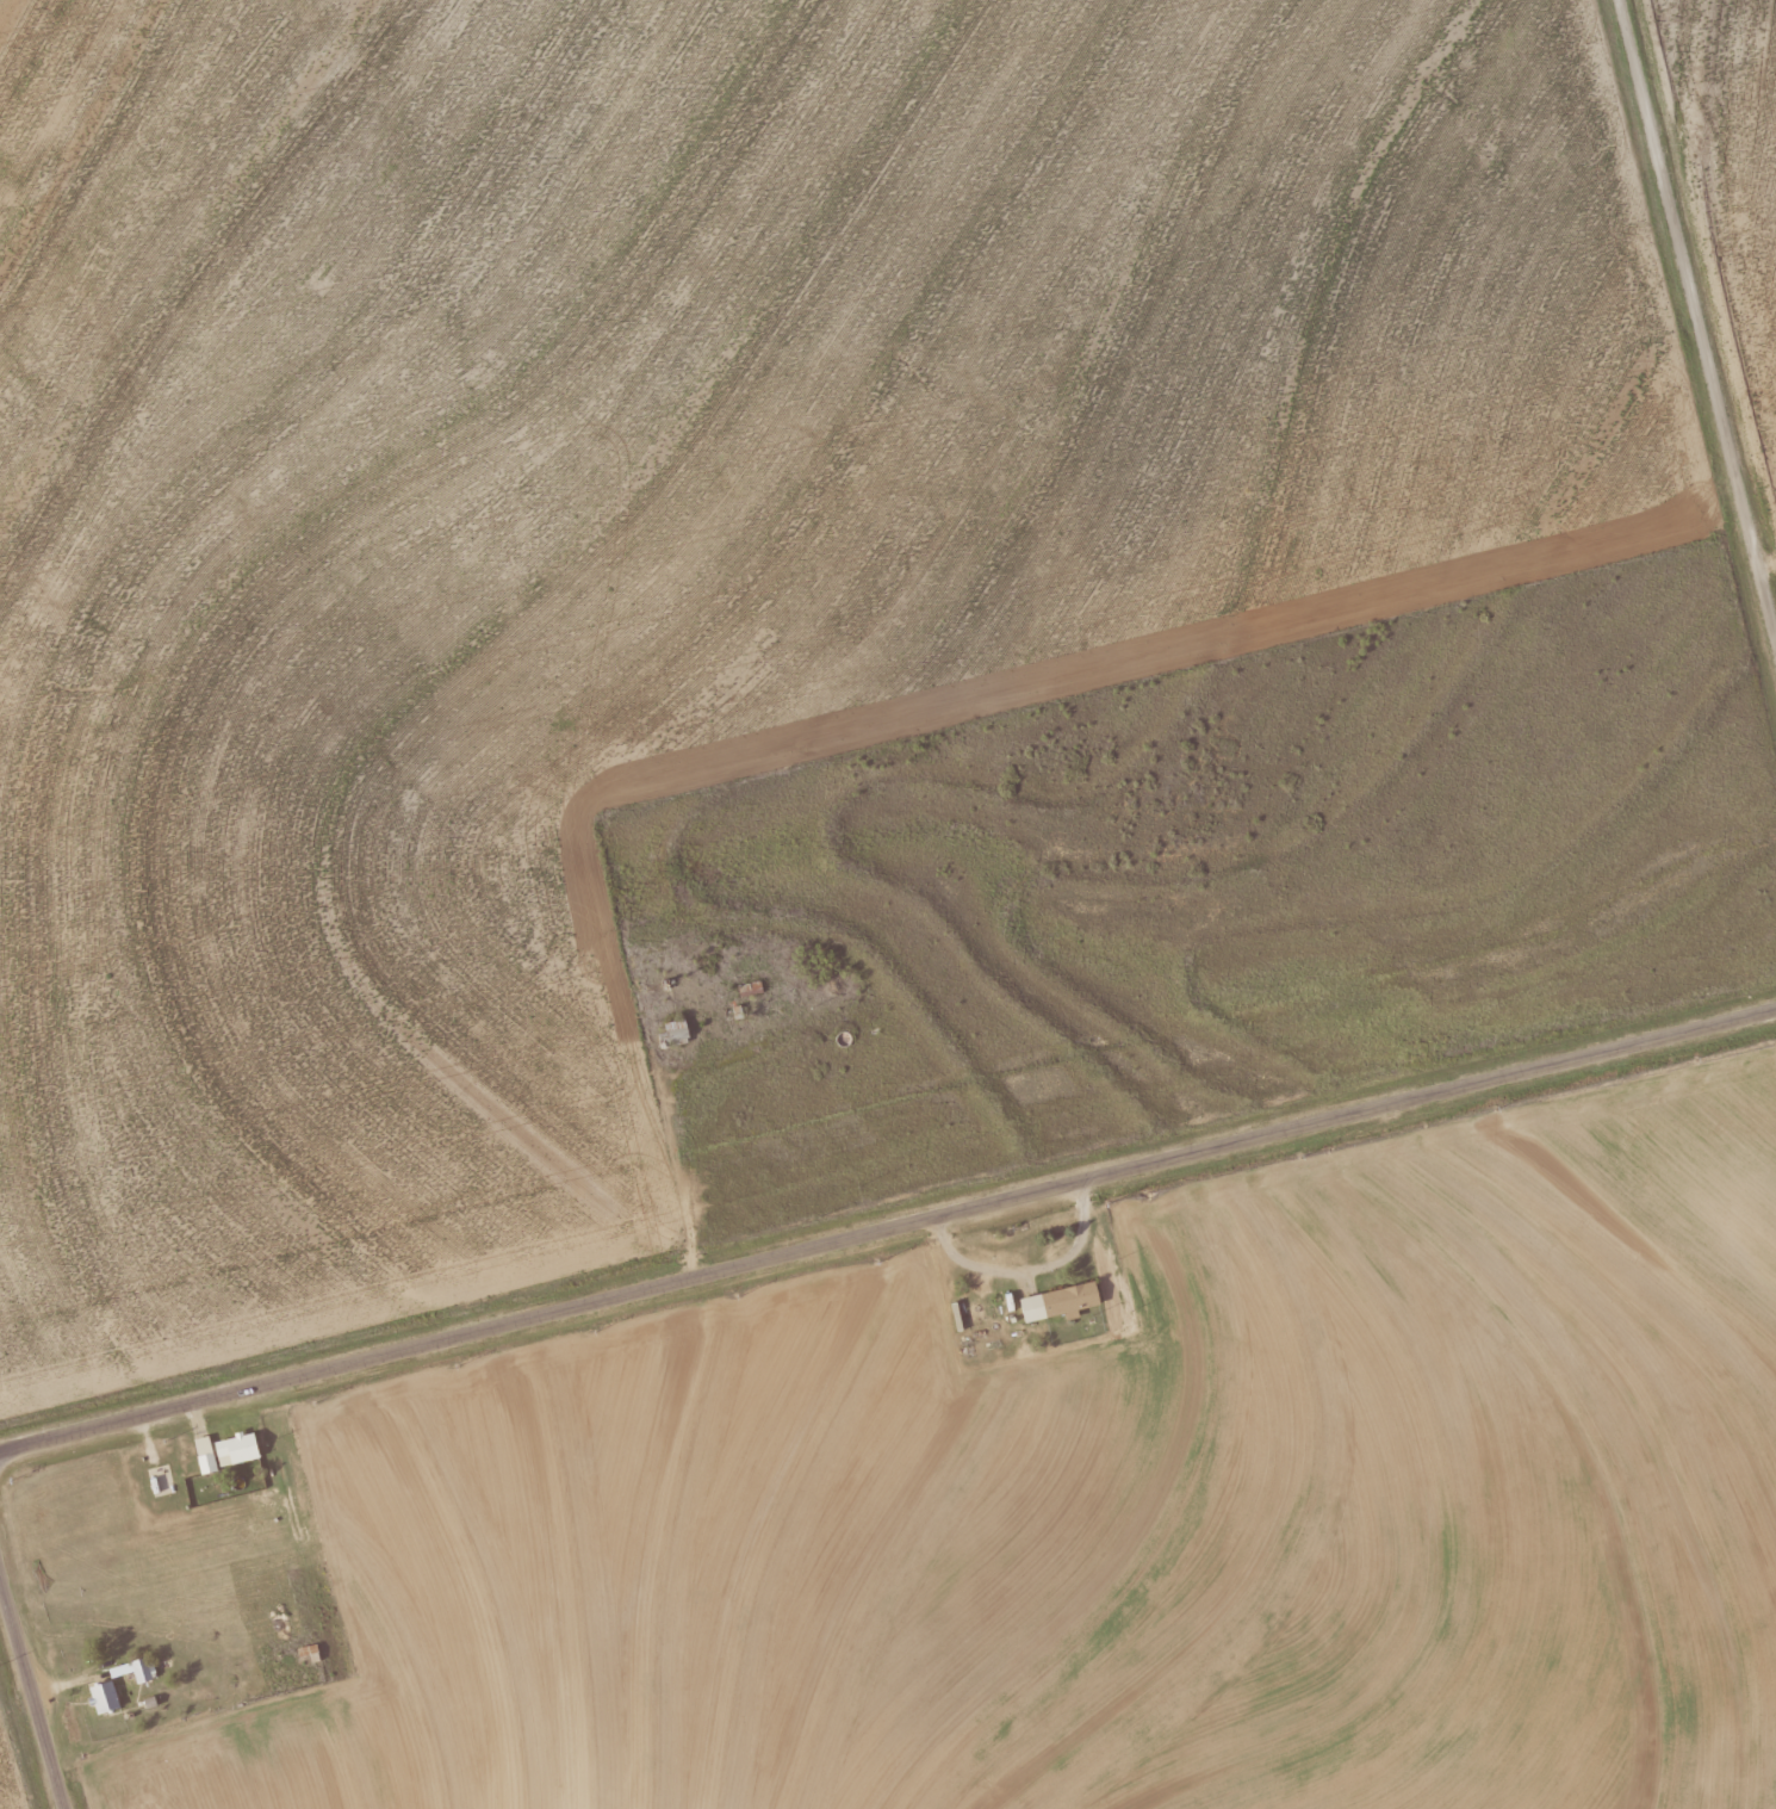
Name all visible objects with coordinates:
road: (1699, 320)
road: (888, 1228)
building: (223, 1451)
road: (35, 1679)
building: (104, 1697)

